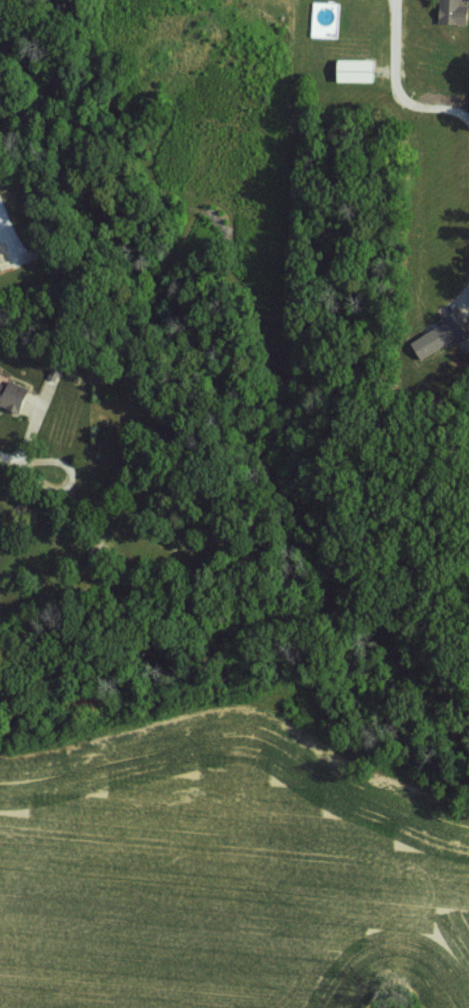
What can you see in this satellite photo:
building: (453, 12)
road: (391, 44)
building: (356, 70)
building: (0, 269)
building: (433, 341)
building: (12, 396)
road: (7, 458)

